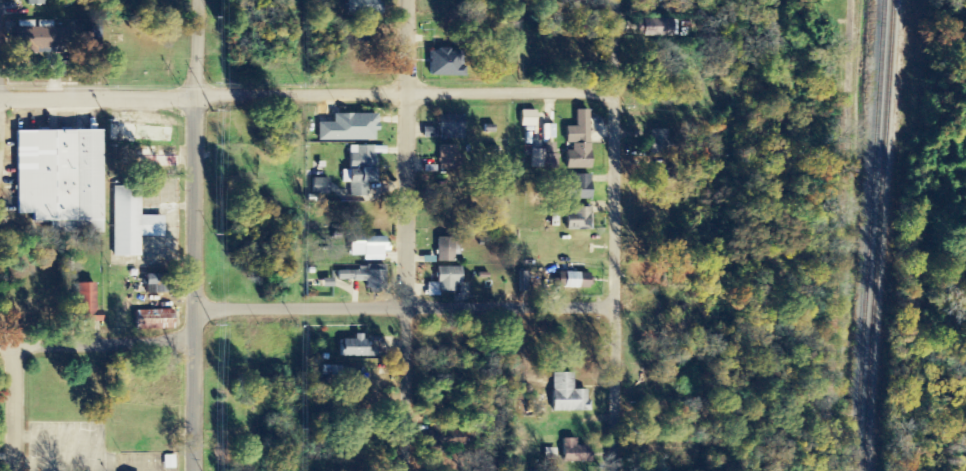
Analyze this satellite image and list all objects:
building: (35, 2)
building: (361, 8)
building: (656, 27)
building: (364, 35)
building: (38, 39)
road: (195, 47)
building: (442, 63)
road: (403, 93)
road: (97, 95)
building: (527, 119)
building: (449, 127)
building: (348, 128)
building: (428, 133)
building: (659, 142)
building: (577, 143)
building: (447, 158)
building: (542, 160)
building: (360, 170)
building: (58, 179)
building: (320, 186)
building: (578, 187)
road: (847, 211)
building: (579, 218)
building: (130, 224)
road: (405, 235)
road: (612, 235)
railway: (867, 235)
railway: (877, 235)
building: (368, 248)
building: (446, 250)
building: (365, 276)
building: (444, 281)
building: (575, 281)
road: (194, 283)
building: (84, 303)
road: (403, 306)
building: (153, 320)
road: (103, 344)
building: (355, 347)
building: (336, 374)
building: (566, 395)
road: (13, 398)
road: (727, 427)
building: (574, 451)

